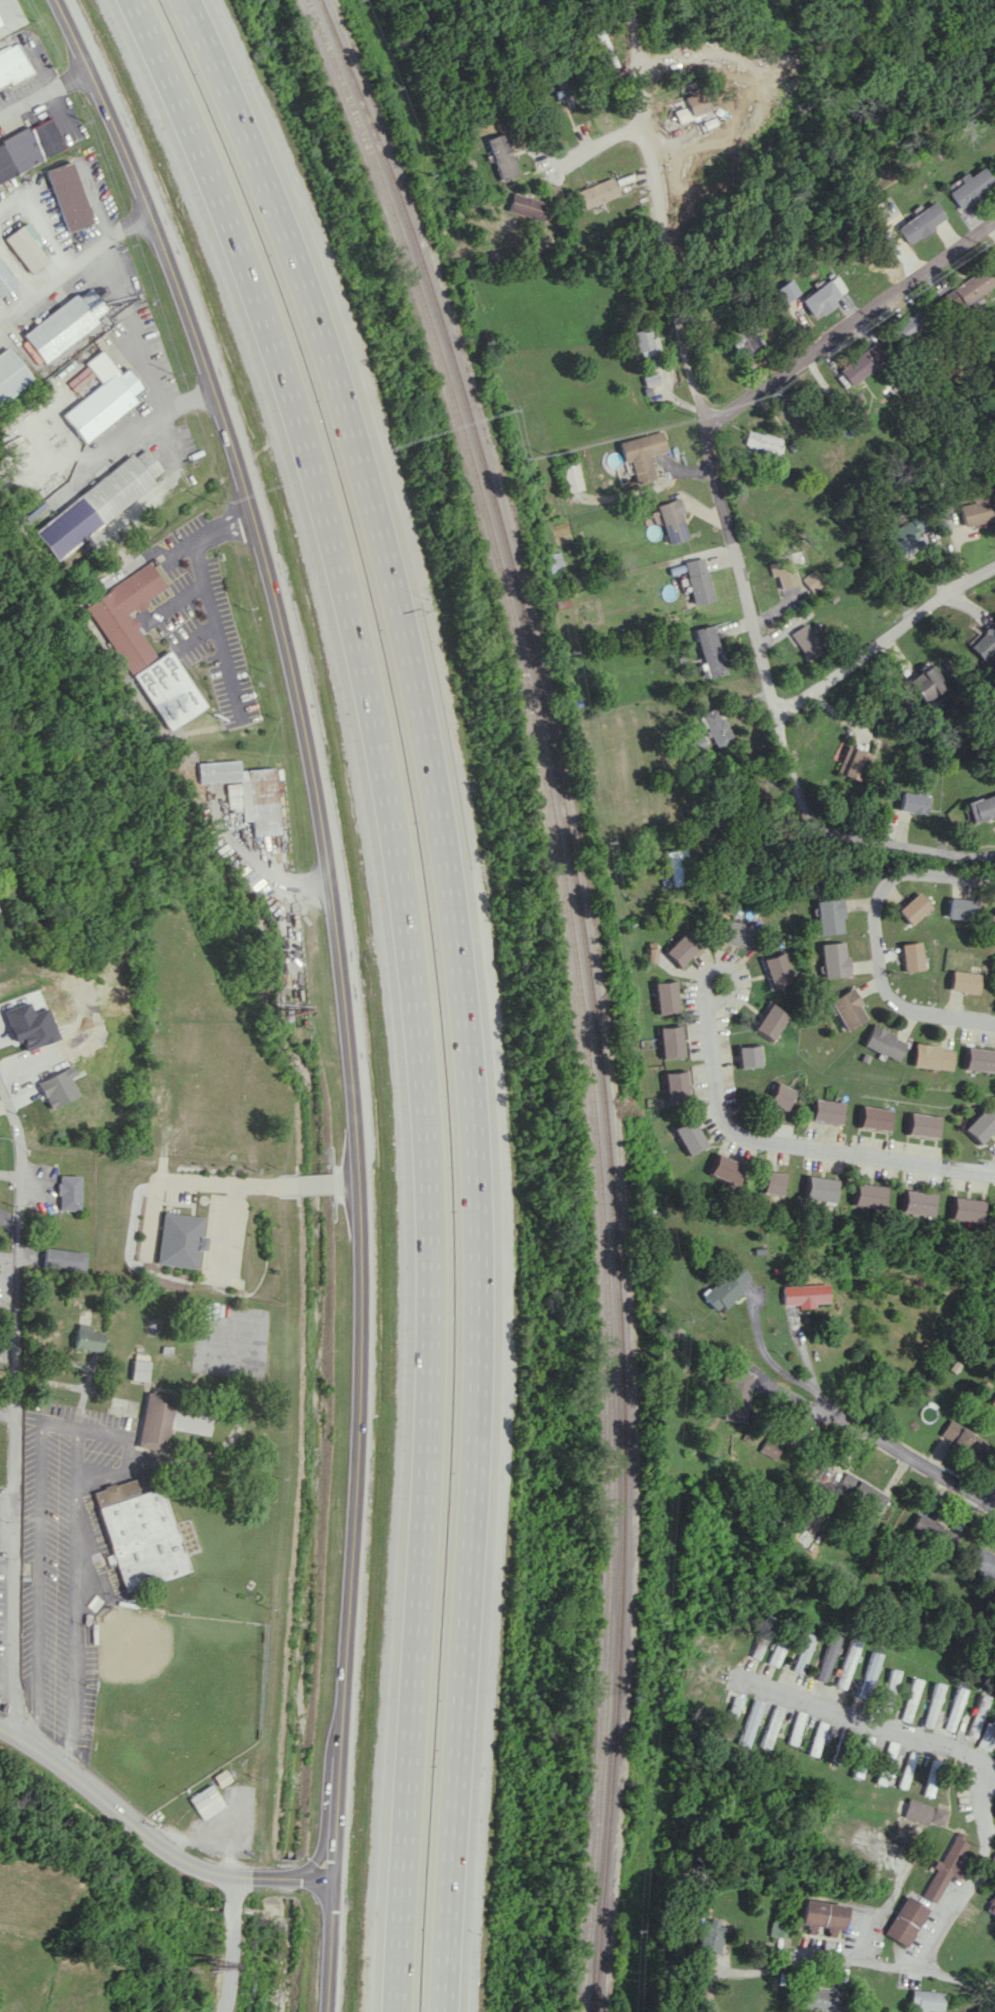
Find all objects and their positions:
building: (603, 49)
road: (732, 58)
building: (12, 65)
building: (564, 87)
road: (41, 94)
building: (694, 104)
building: (28, 148)
road: (597, 150)
building: (501, 156)
building: (967, 186)
building: (595, 192)
building: (67, 196)
building: (525, 206)
road: (657, 214)
building: (920, 222)
road: (39, 223)
building: (24, 248)
road: (74, 263)
road: (16, 270)
building: (5, 279)
building: (969, 288)
building: (787, 290)
building: (824, 296)
road: (129, 310)
building: (64, 323)
road: (852, 325)
building: (910, 326)
building: (747, 340)
building: (642, 341)
building: (865, 361)
building: (11, 375)
building: (650, 379)
building: (101, 398)
road: (149, 420)
road: (709, 436)
building: (762, 441)
building: (642, 454)
building: (571, 477)
building: (94, 503)
building: (975, 510)
building: (673, 520)
building: (903, 534)
building: (783, 573)
road: (205, 580)
building: (698, 580)
building: (812, 580)
building: (125, 615)
road: (883, 638)
building: (804, 639)
road: (756, 642)
building: (985, 642)
building: (709, 650)
building: (925, 683)
building: (168, 690)
building: (715, 727)
building: (849, 762)
building: (244, 792)
building: (911, 802)
building: (980, 808)
road: (904, 847)
building: (676, 866)
road: (259, 867)
building: (913, 908)
building: (960, 908)
building: (829, 916)
building: (992, 918)
building: (735, 932)
road: (874, 941)
building: (681, 948)
building: (649, 956)
building: (912, 956)
building: (834, 959)
road: (724, 967)
building: (777, 969)
road: (341, 981)
building: (964, 981)
road: (412, 984)
road: (460, 985)
railway: (574, 988)
building: (664, 996)
building: (847, 1009)
building: (770, 1021)
building: (29, 1025)
building: (670, 1041)
building: (883, 1043)
building: (748, 1055)
building: (931, 1057)
building: (978, 1059)
building: (56, 1087)
building: (677, 1087)
building: (779, 1095)
building: (826, 1111)
building: (875, 1118)
building: (923, 1125)
building: (981, 1125)
building: (688, 1136)
road: (793, 1144)
road: (83, 1156)
building: (725, 1169)
road: (992, 1170)
road: (346, 1180)
road: (184, 1182)
building: (771, 1182)
road: (306, 1183)
building: (820, 1187)
building: (66, 1192)
building: (868, 1195)
building: (916, 1202)
building: (965, 1209)
road: (229, 1226)
building: (179, 1240)
building: (61, 1259)
building: (725, 1287)
building: (804, 1294)
building: (85, 1338)
road: (775, 1364)
building: (139, 1370)
building: (740, 1391)
building: (993, 1402)
road: (16, 1407)
road: (8, 1416)
building: (171, 1420)
road: (67, 1425)
building: (962, 1438)
building: (770, 1444)
road: (128, 1452)
road: (910, 1457)
building: (861, 1491)
road: (991, 1495)
building: (139, 1533)
building: (947, 1543)
road: (9, 1562)
building: (983, 1562)
building: (756, 1644)
building: (776, 1647)
building: (802, 1652)
building: (826, 1656)
building: (846, 1663)
building: (868, 1674)
building: (888, 1690)
building: (909, 1699)
building: (932, 1705)
building: (953, 1709)
building: (976, 1716)
road: (864, 1721)
building: (749, 1723)
building: (770, 1726)
building: (795, 1727)
building: (816, 1738)
building: (889, 1754)
building: (906, 1770)
building: (205, 1801)
road: (114, 1807)
building: (922, 1812)
road: (319, 1853)
building: (946, 1867)
road: (975, 1870)
road: (245, 1876)
road: (274, 1879)
road: (313, 1882)
building: (991, 1905)
building: (821, 1915)
building: (906, 1921)
building: (774, 1930)
building: (709, 1936)
road: (224, 1943)
road: (889, 1960)
building: (820, 1999)
building: (924, 1999)

